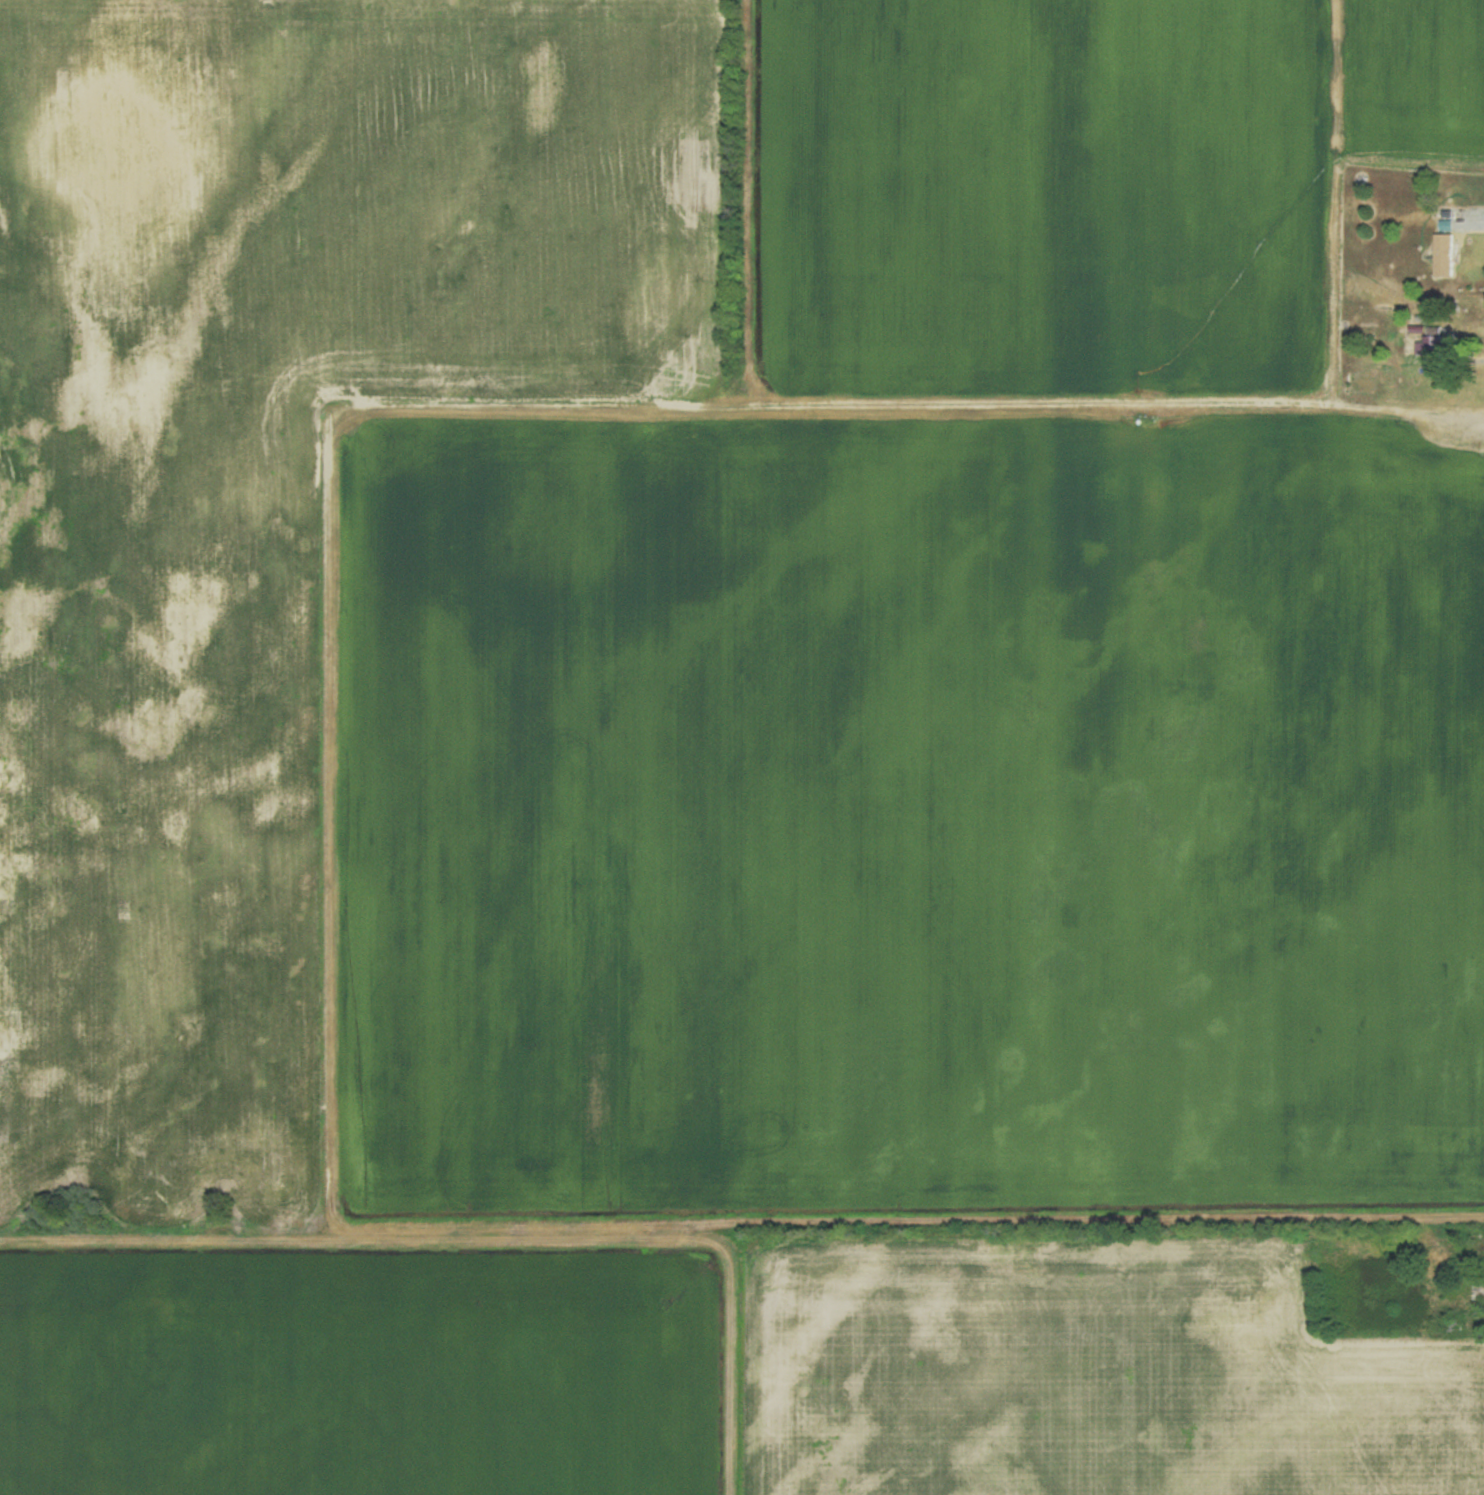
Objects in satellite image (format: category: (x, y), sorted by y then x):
road: (1466, 230)
building: (1445, 255)

